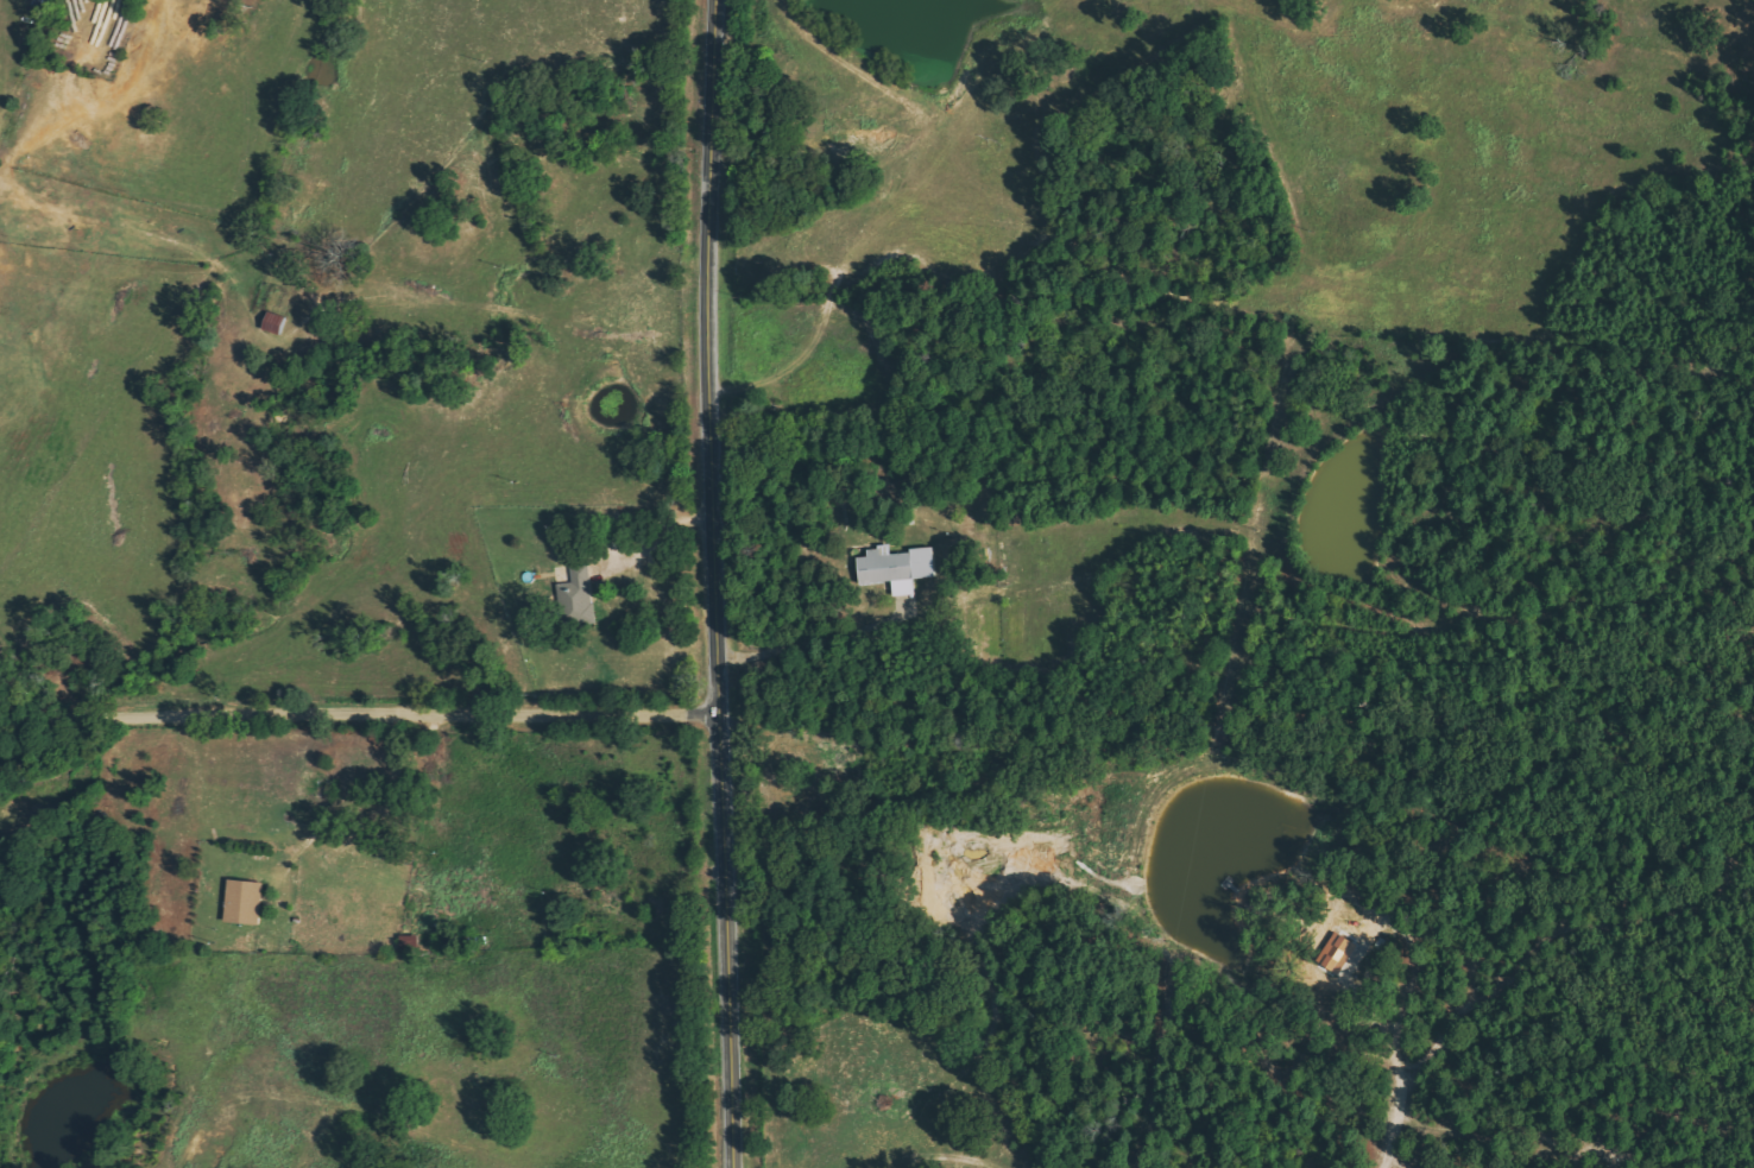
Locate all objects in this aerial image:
building: (896, 568)
road: (714, 583)
building: (579, 598)
road: (357, 714)
building: (244, 902)
building: (409, 943)
building: (1337, 953)

